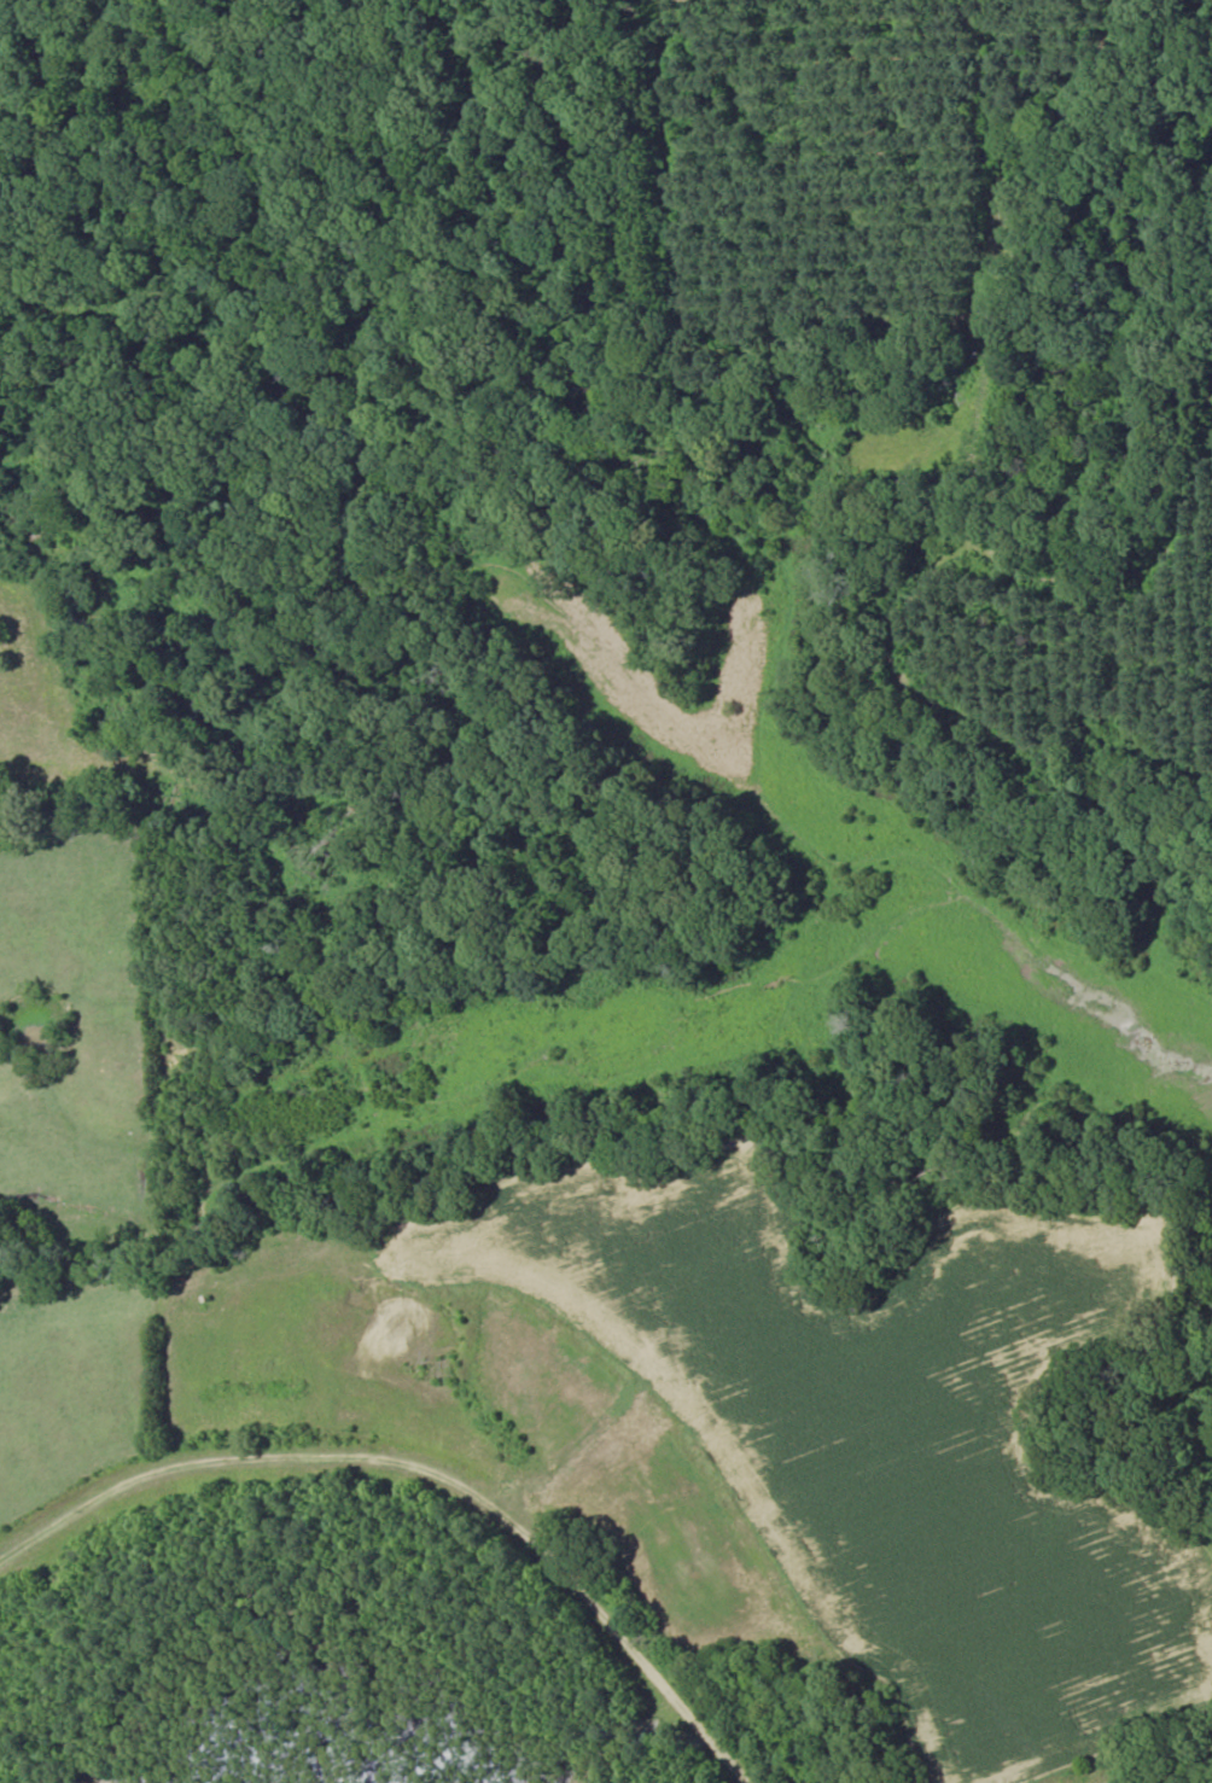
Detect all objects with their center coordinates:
road: (429, 1473)

